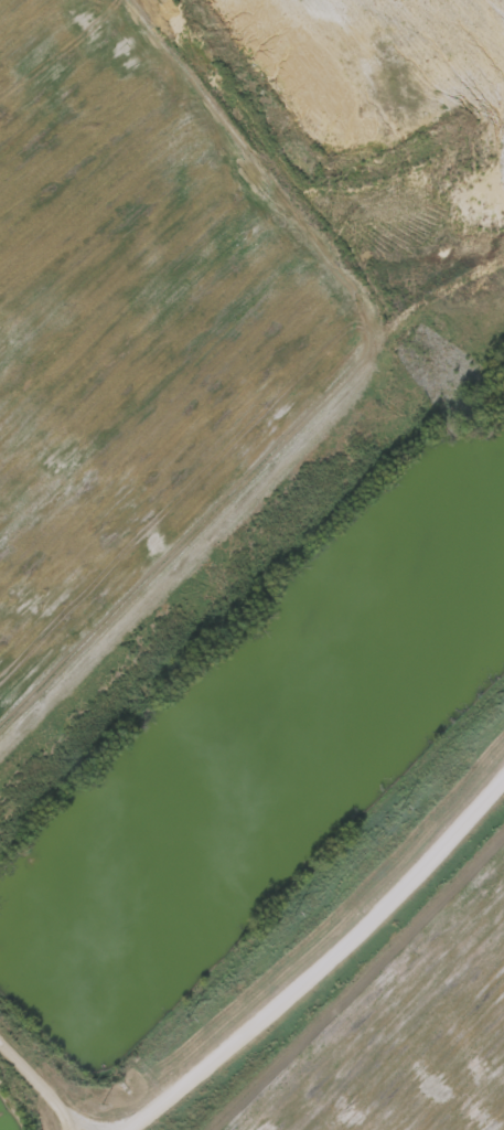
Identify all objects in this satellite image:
wastewater plant: (251, 565)
road: (325, 964)

